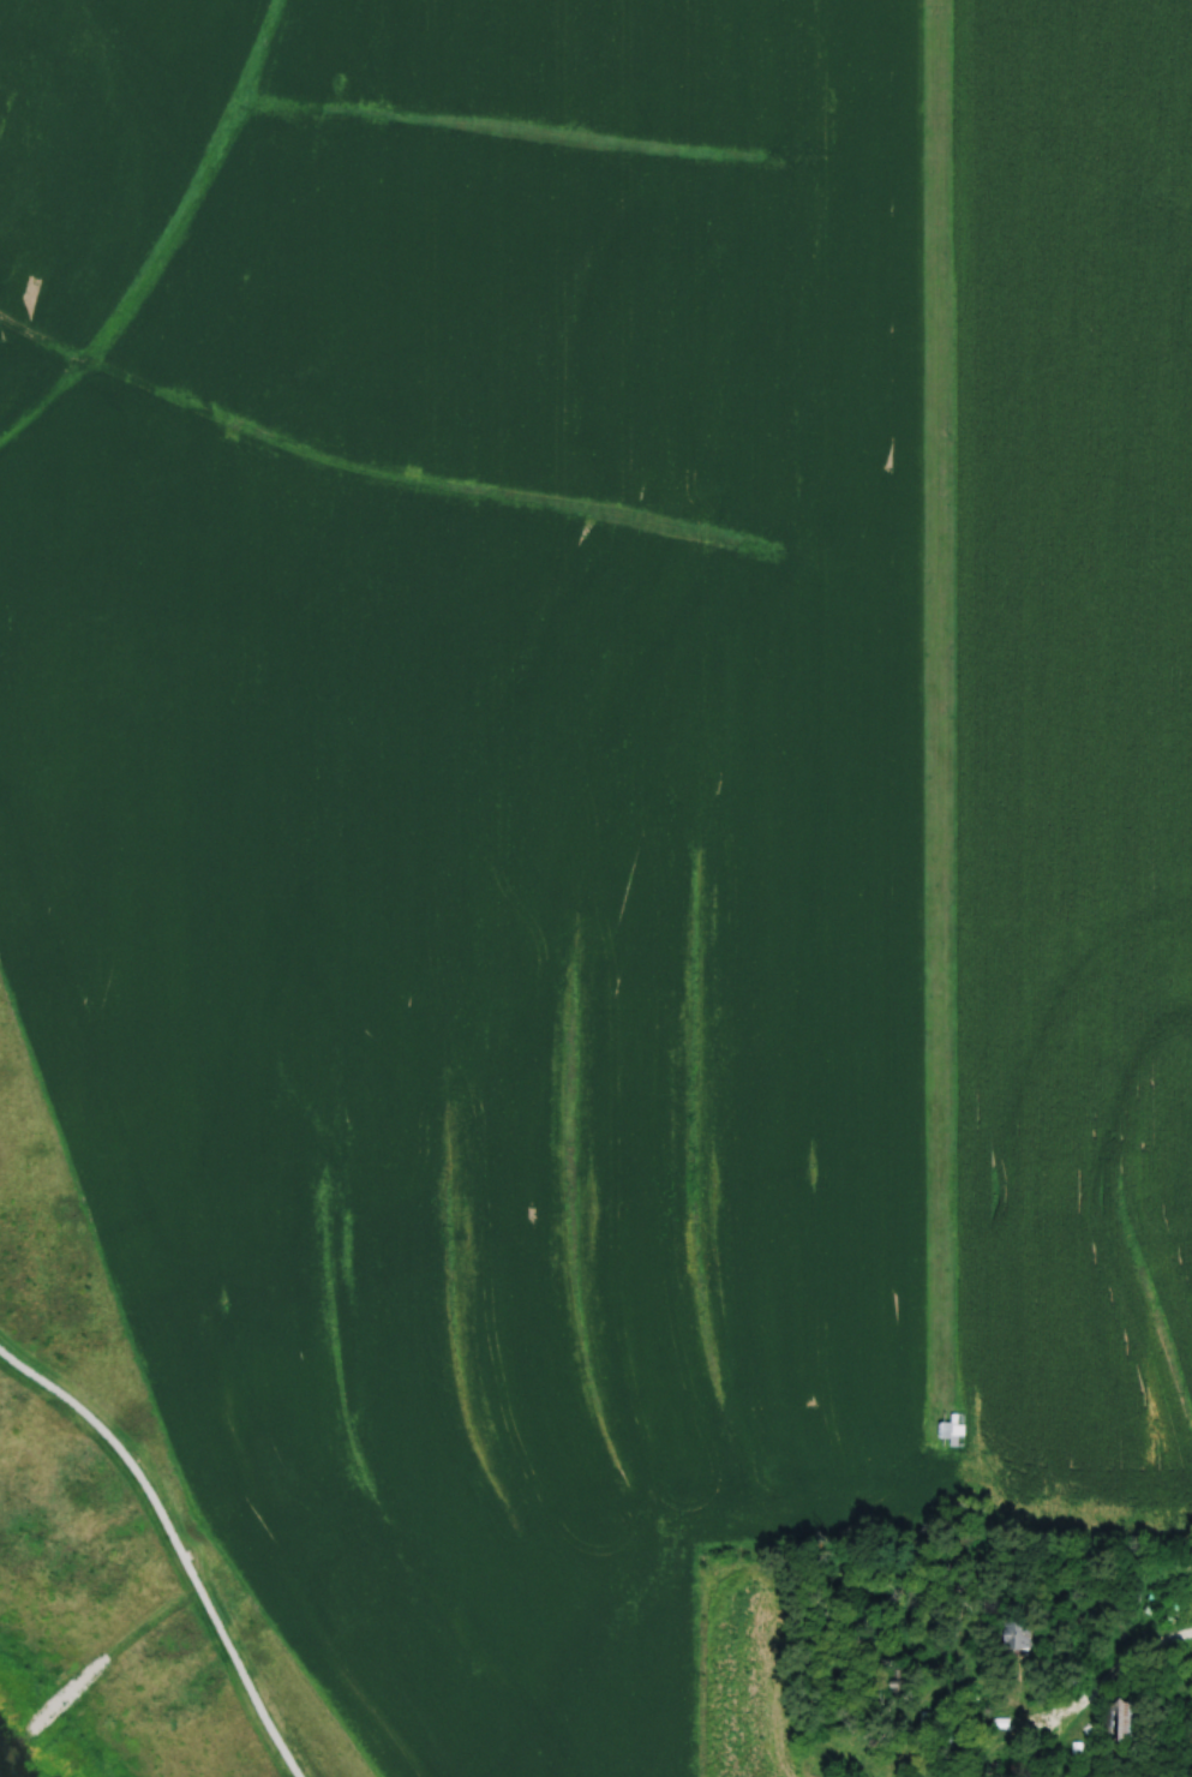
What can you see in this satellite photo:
airport runway: (940, 692)
building: (951, 1431)
park: (114, 1530)
road: (175, 1543)
building: (1013, 1634)
road: (110, 1650)
building: (1128, 1723)
building: (956, 1739)

